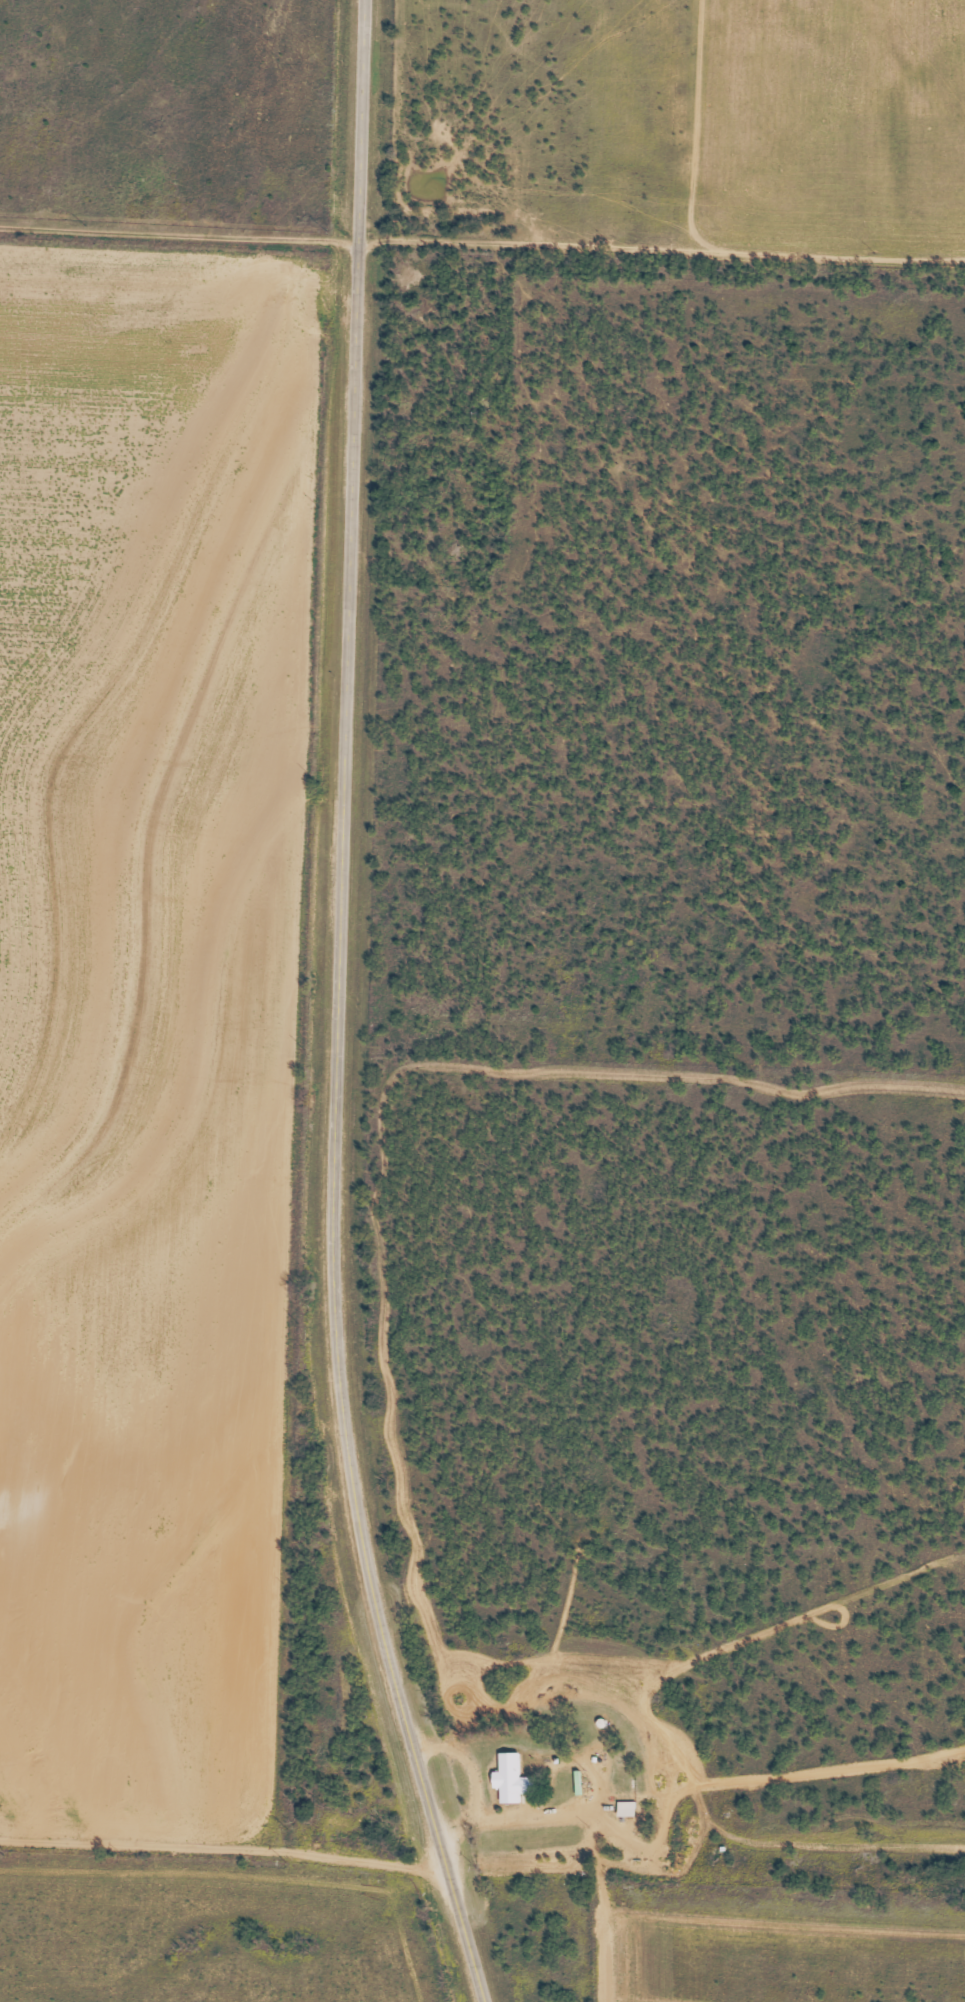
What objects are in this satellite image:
road: (482, 249)
road: (339, 1009)
road: (651, 1076)
building: (512, 1779)
road: (226, 1862)

